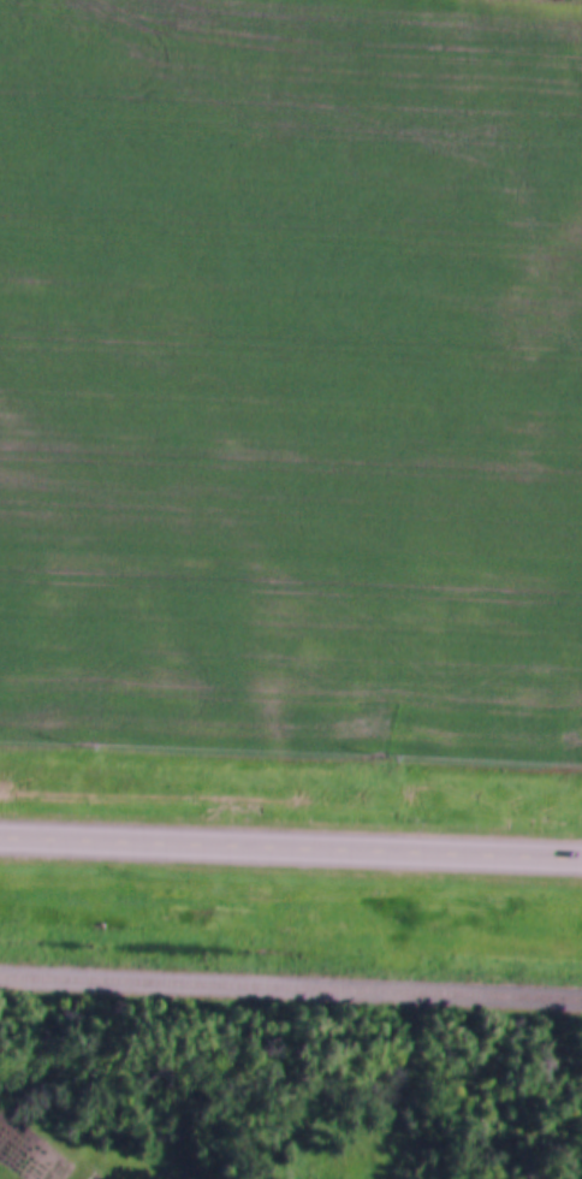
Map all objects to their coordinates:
road: (291, 851)
railway: (291, 987)

